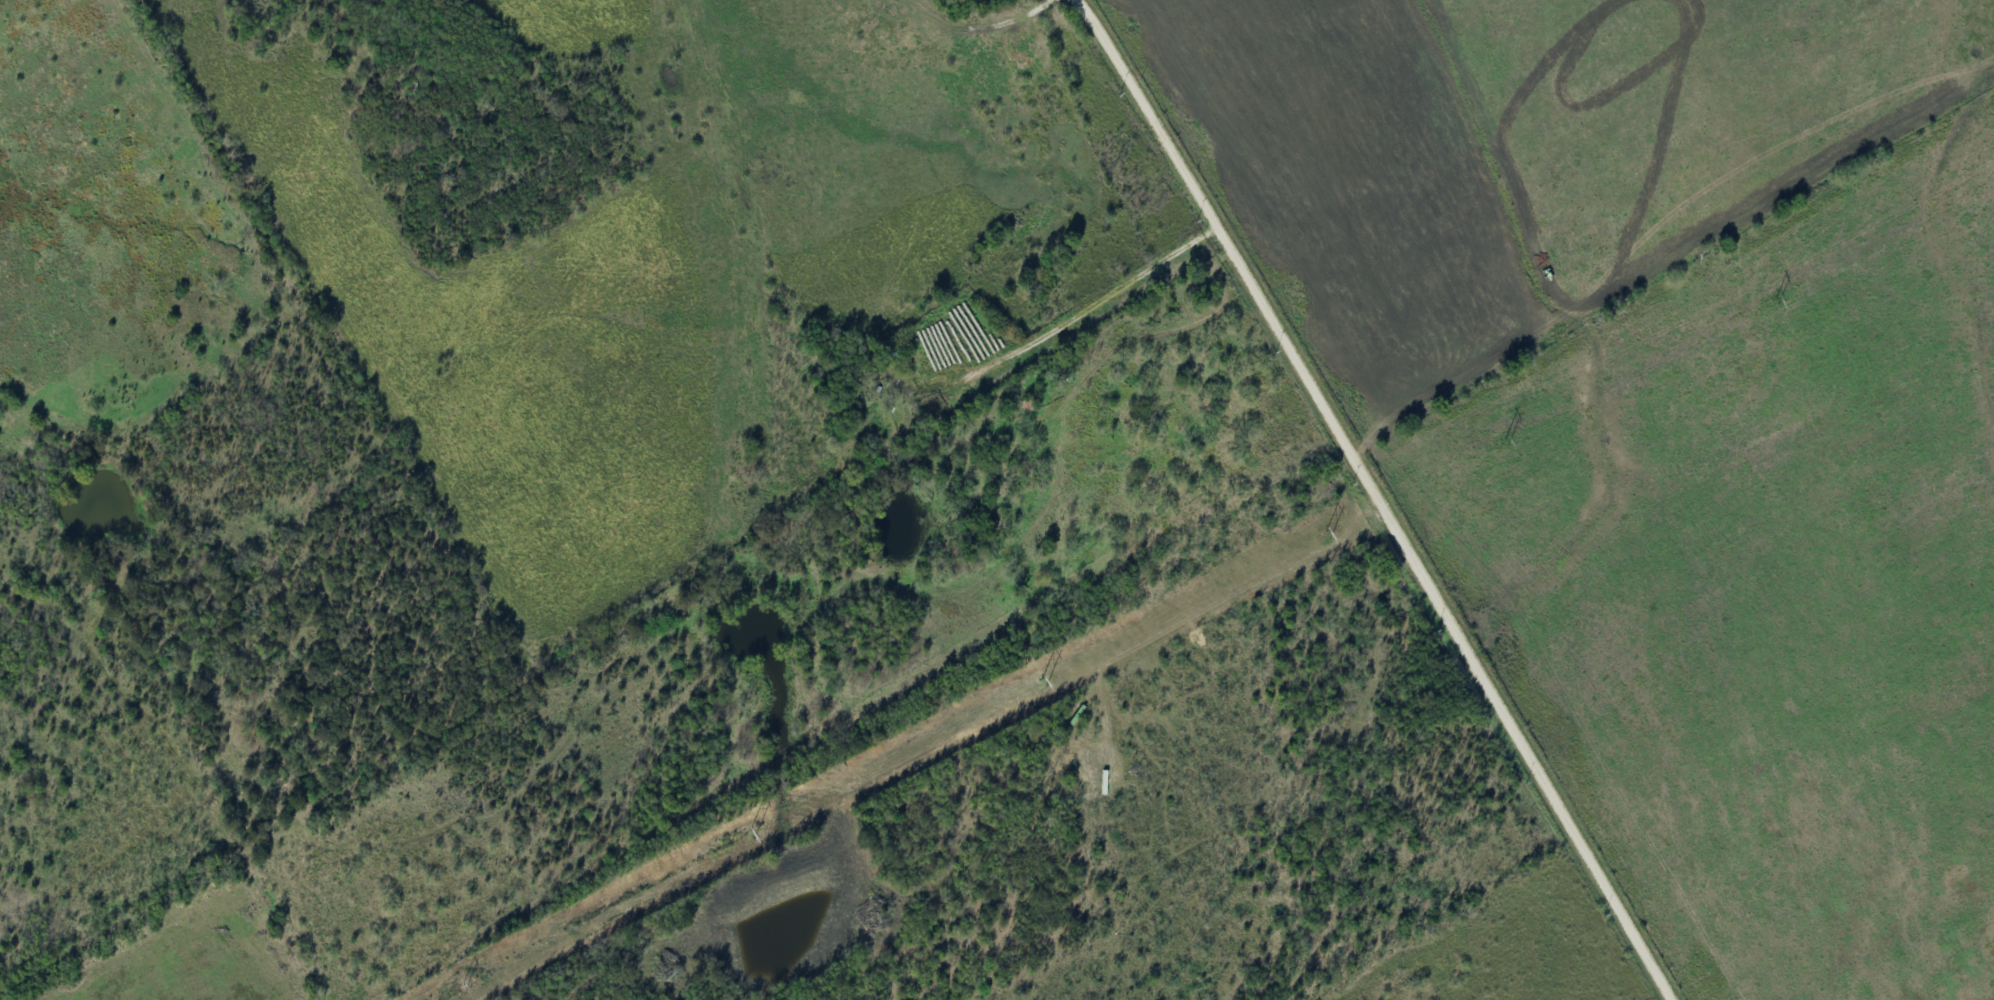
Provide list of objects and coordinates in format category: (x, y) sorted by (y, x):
power tower: (1779, 302)
power tower: (1507, 444)
road: (1382, 495)
power tower: (1328, 535)
power tower: (1044, 680)
power tower: (753, 834)
power tower: (465, 984)

